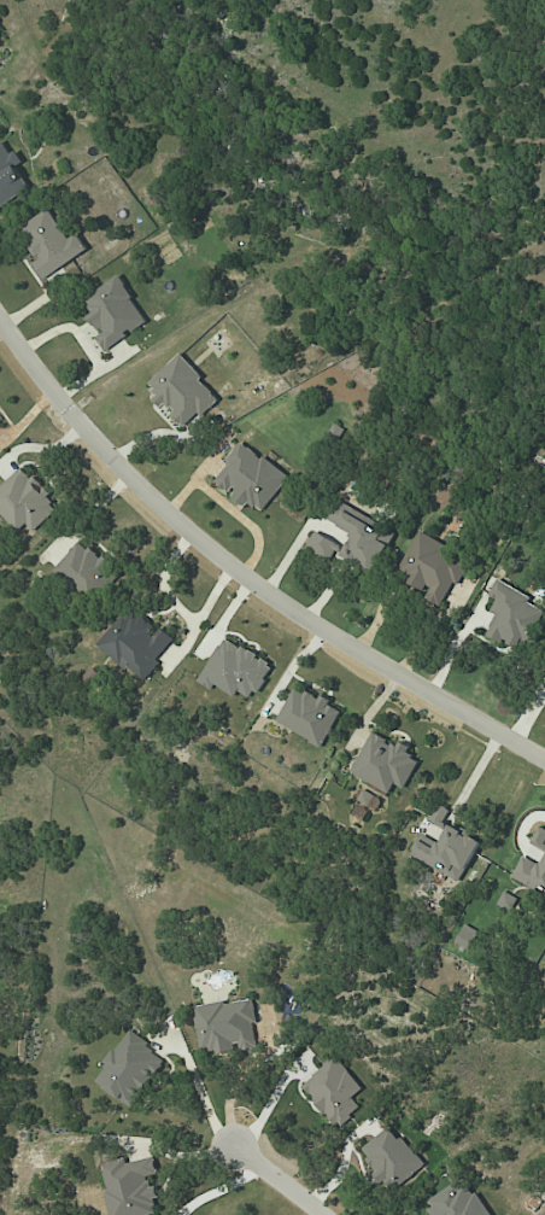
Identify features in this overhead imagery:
building: (10, 175)
building: (51, 244)
building: (115, 312)
building: (182, 391)
building: (0, 426)
road: (41, 449)
building: (250, 478)
building: (25, 502)
road: (87, 518)
building: (362, 536)
building: (322, 545)
building: (84, 568)
building: (432, 568)
road: (244, 572)
road: (177, 606)
building: (511, 615)
building: (136, 644)
road: (186, 646)
building: (235, 670)
building: (309, 715)
building: (385, 764)
road: (475, 775)
building: (364, 798)
road: (521, 833)
building: (539, 839)
building: (447, 847)
building: (531, 874)
building: (506, 903)
building: (227, 1026)
building: (129, 1069)
building: (334, 1091)
road: (206, 1093)
road: (270, 1100)
building: (391, 1157)
road: (280, 1180)
building: (130, 1187)
building: (456, 1201)

